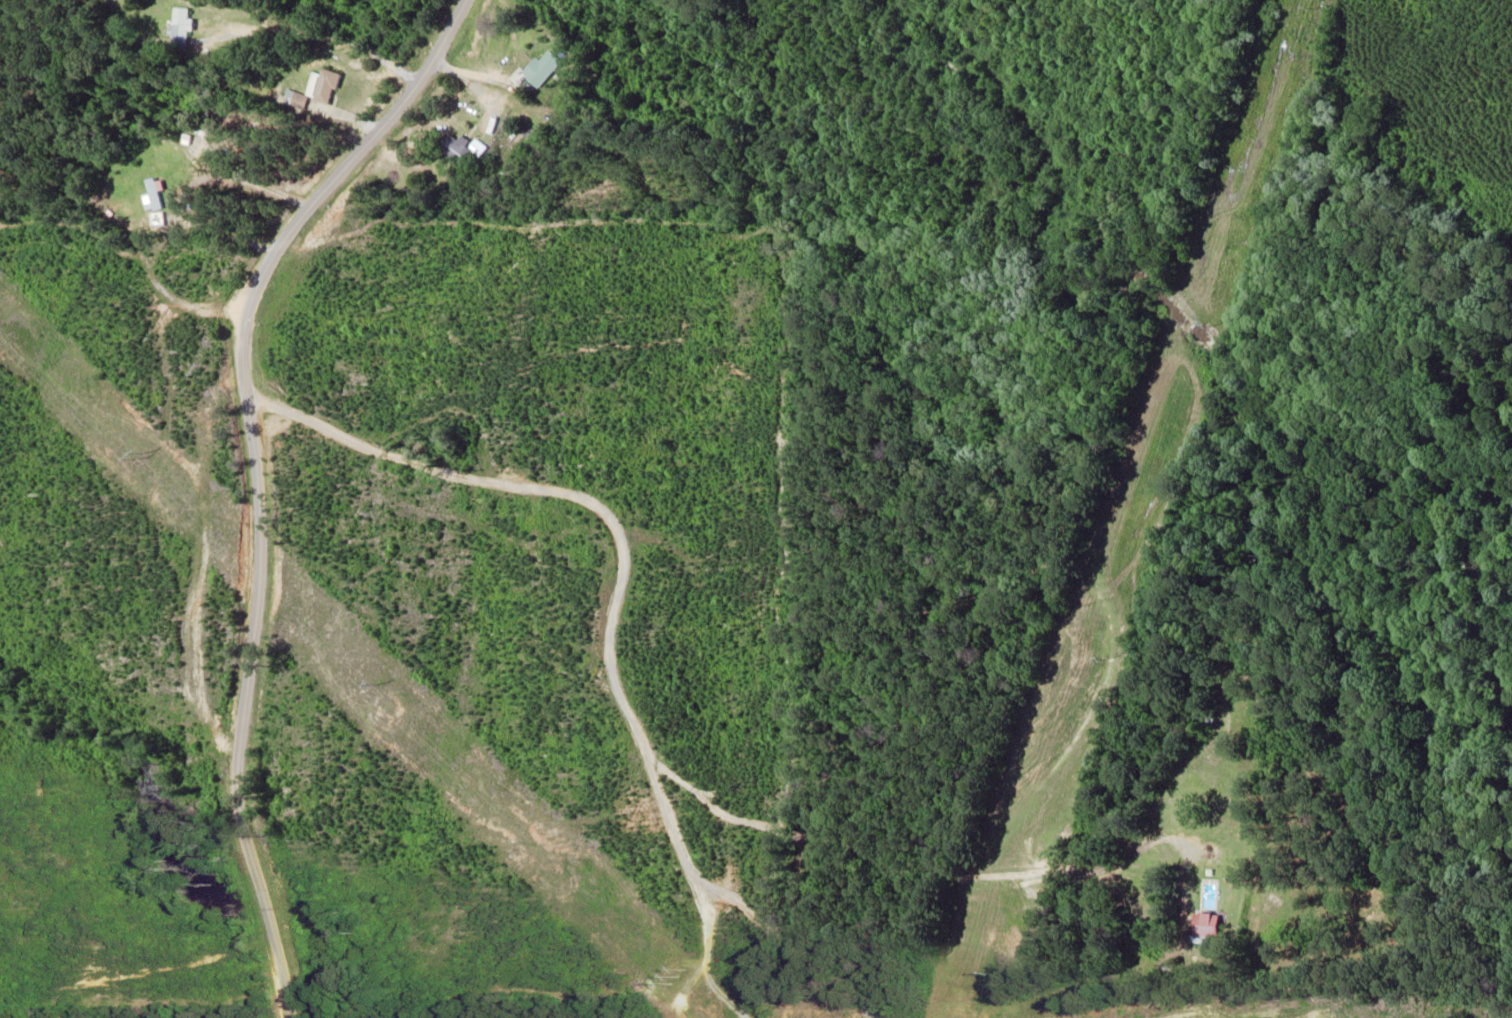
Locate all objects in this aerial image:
building: (179, 28)
building: (543, 67)
building: (324, 86)
building: (459, 149)
road: (237, 479)
road: (631, 627)
building: (1208, 926)

